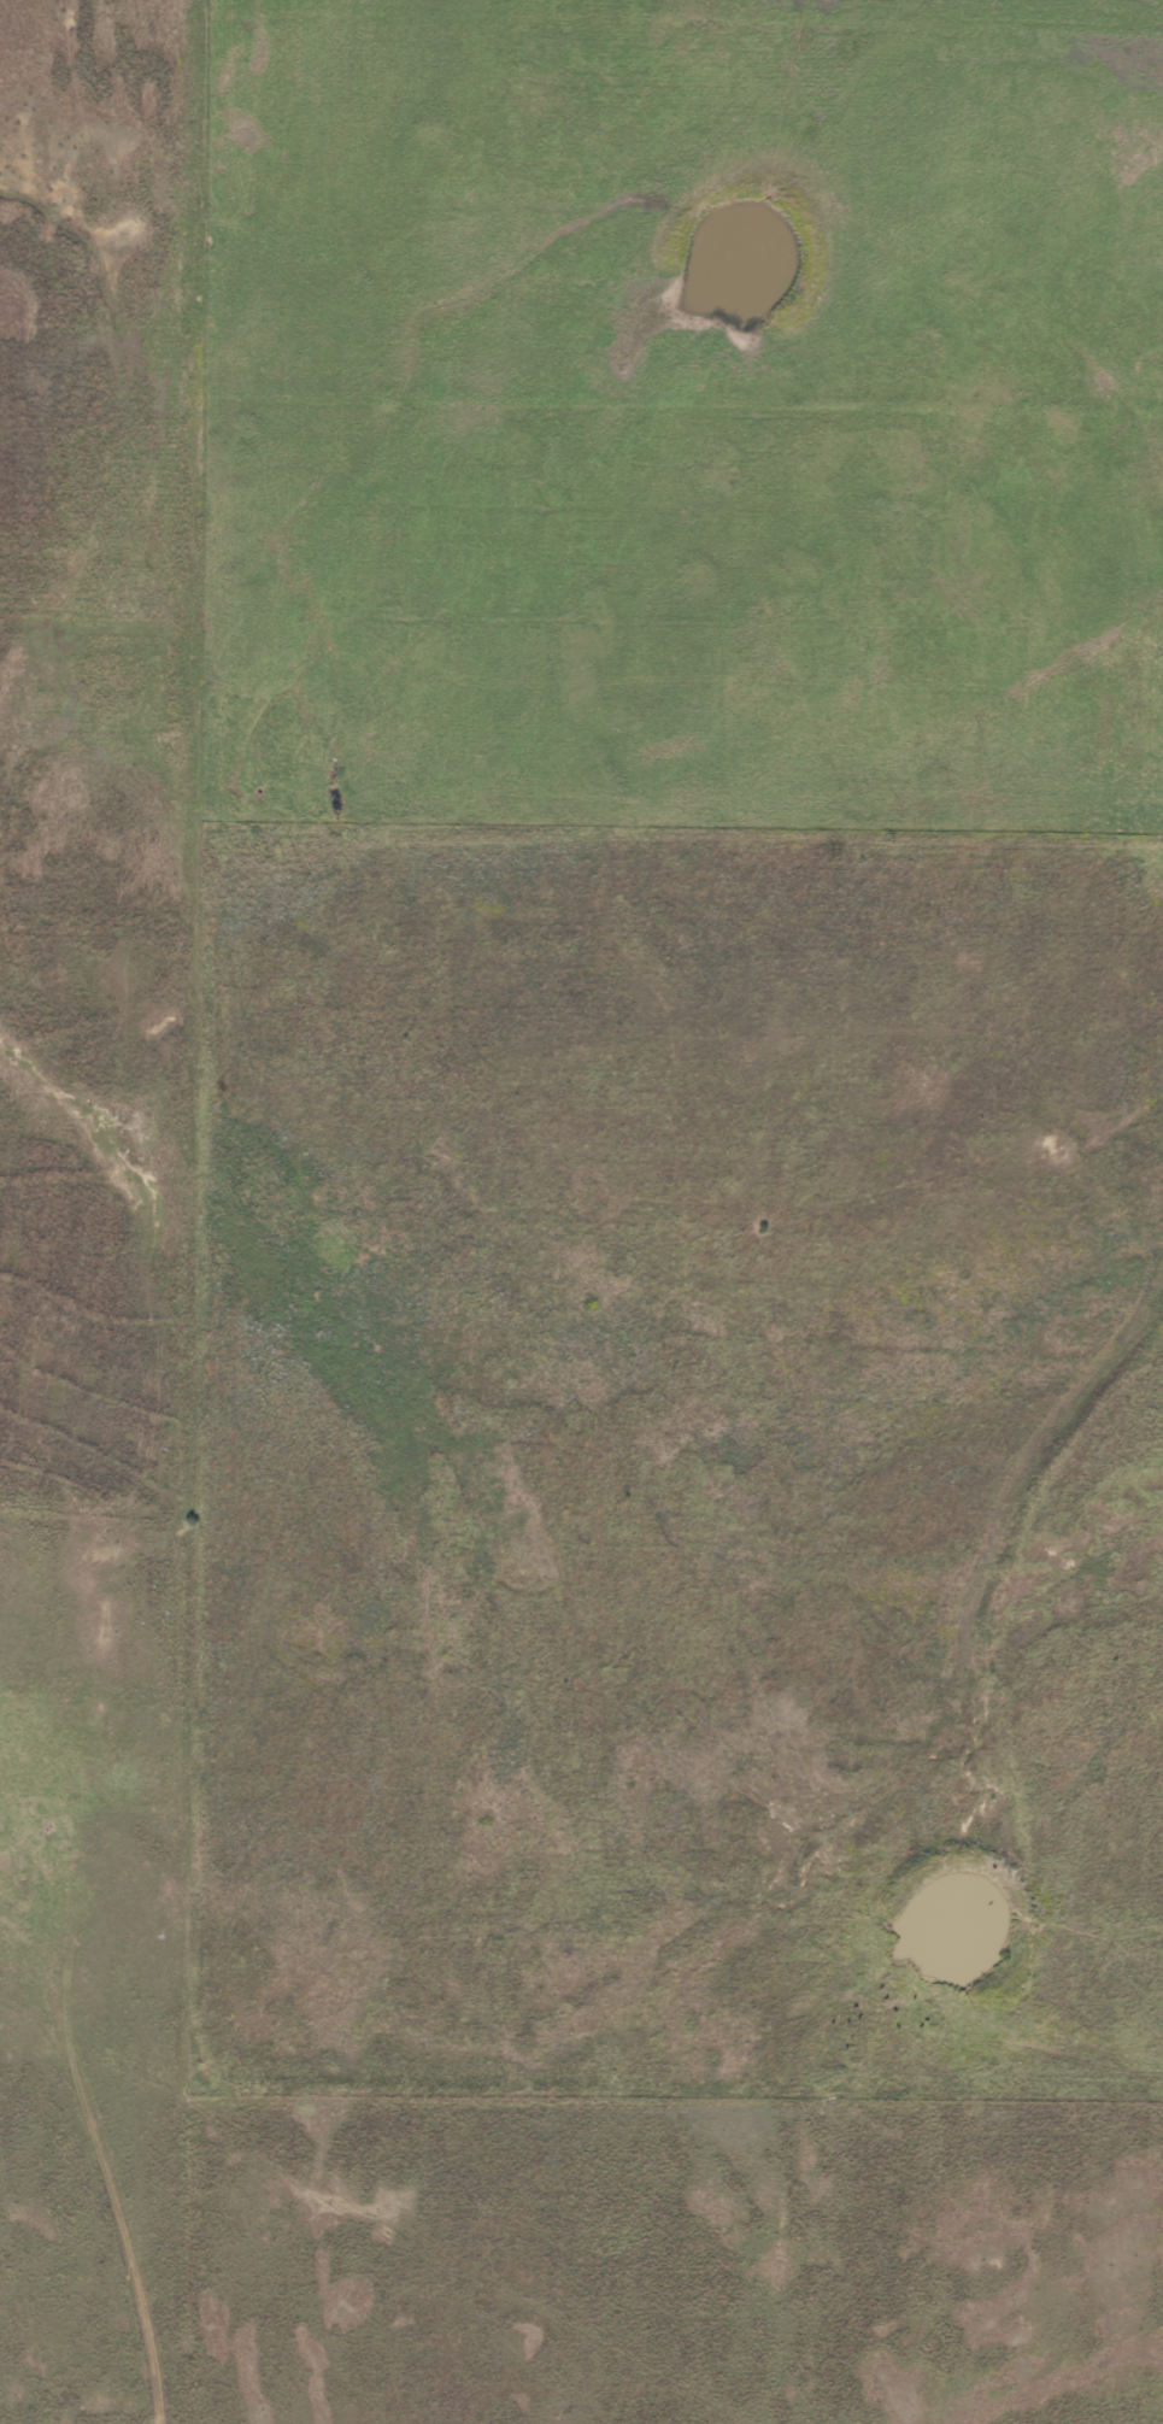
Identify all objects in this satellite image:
road: (77, 2124)

